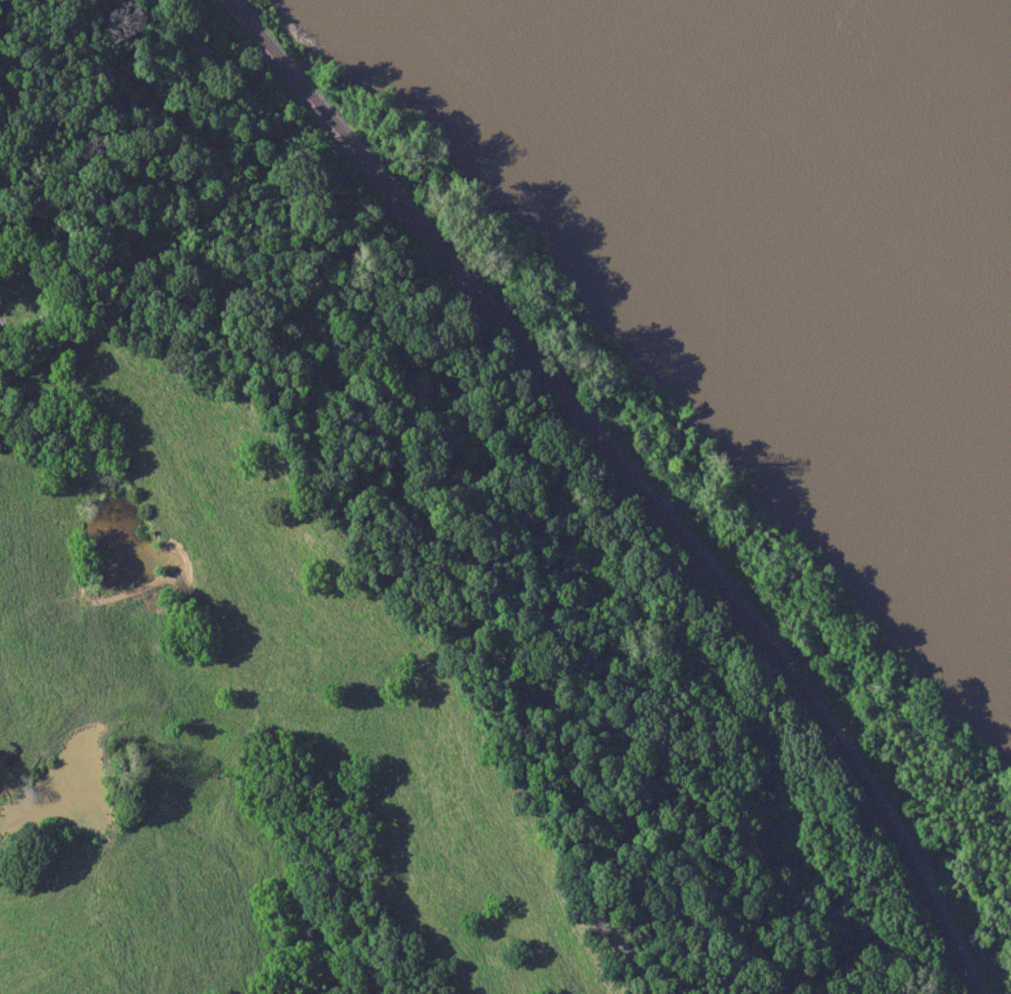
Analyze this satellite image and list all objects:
river: (825, 193)
railway: (630, 476)

